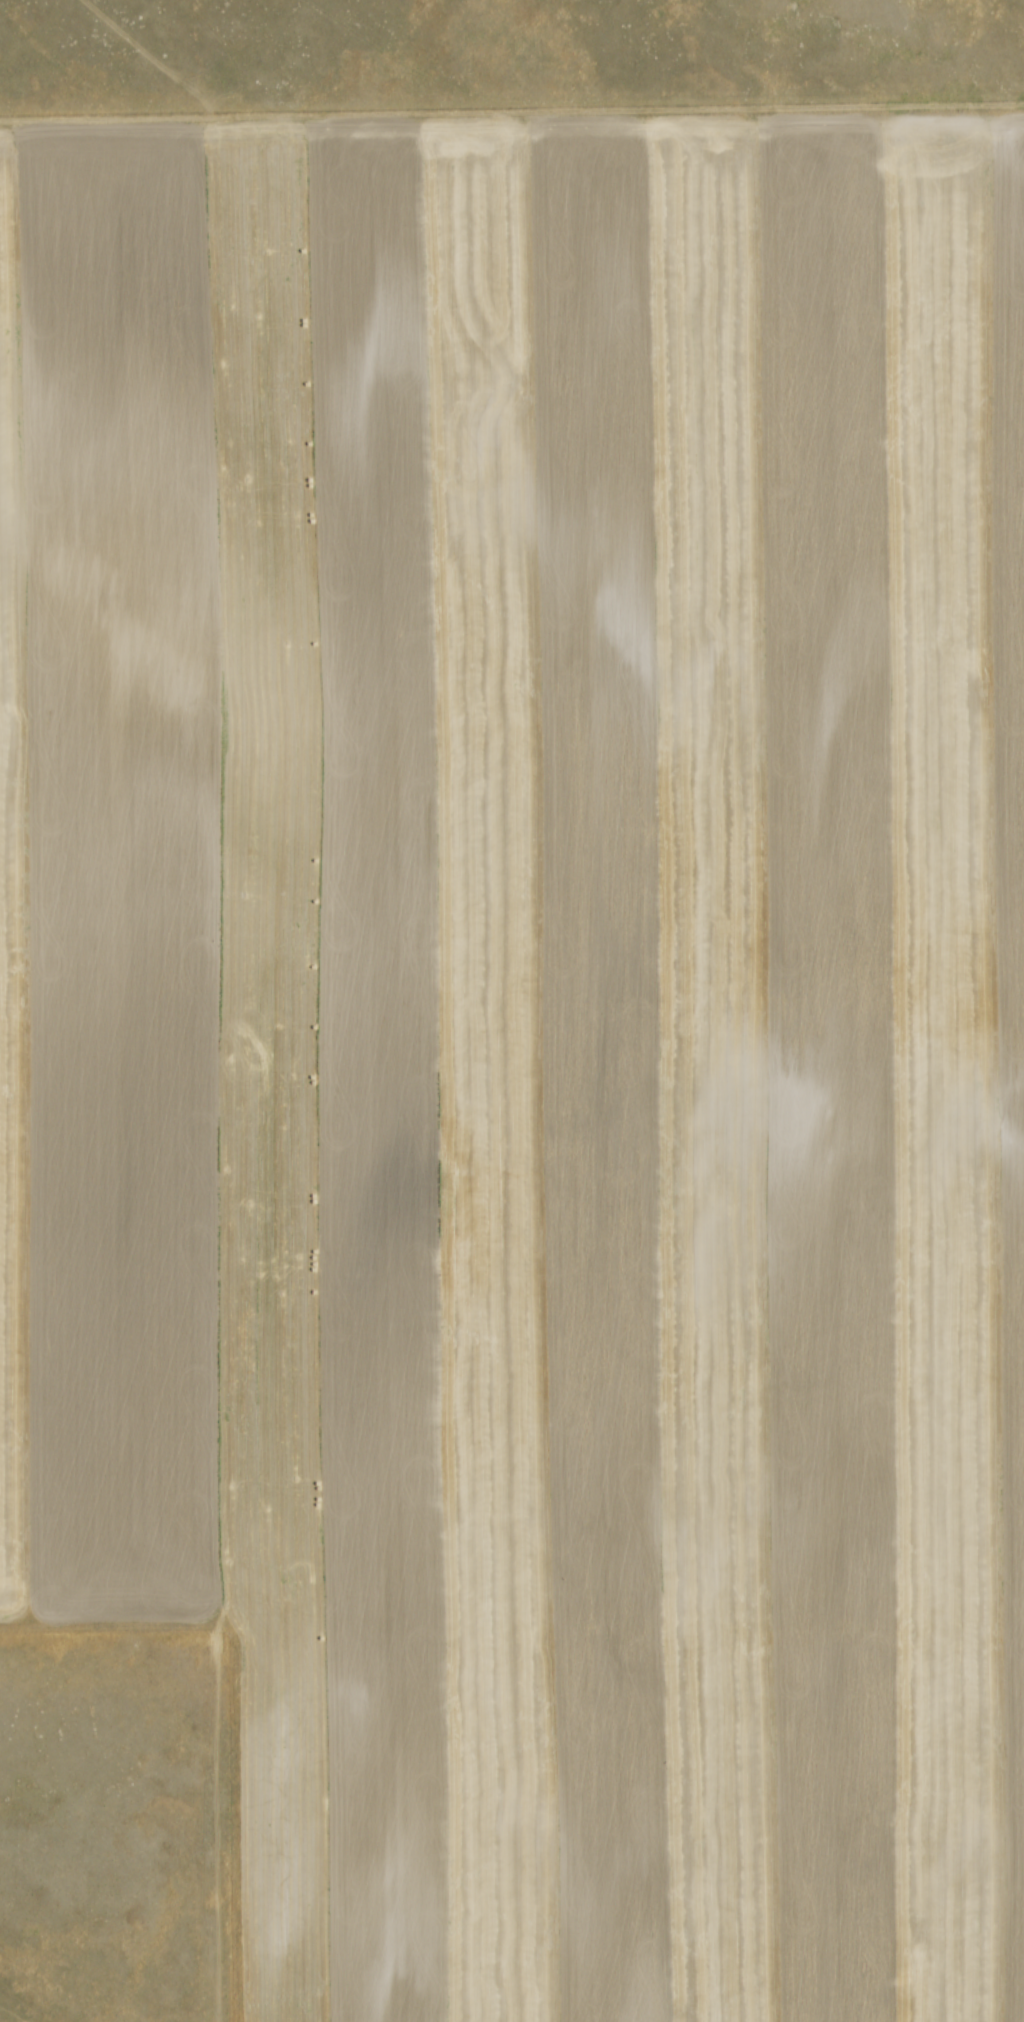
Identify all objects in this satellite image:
road: (108, 1625)

